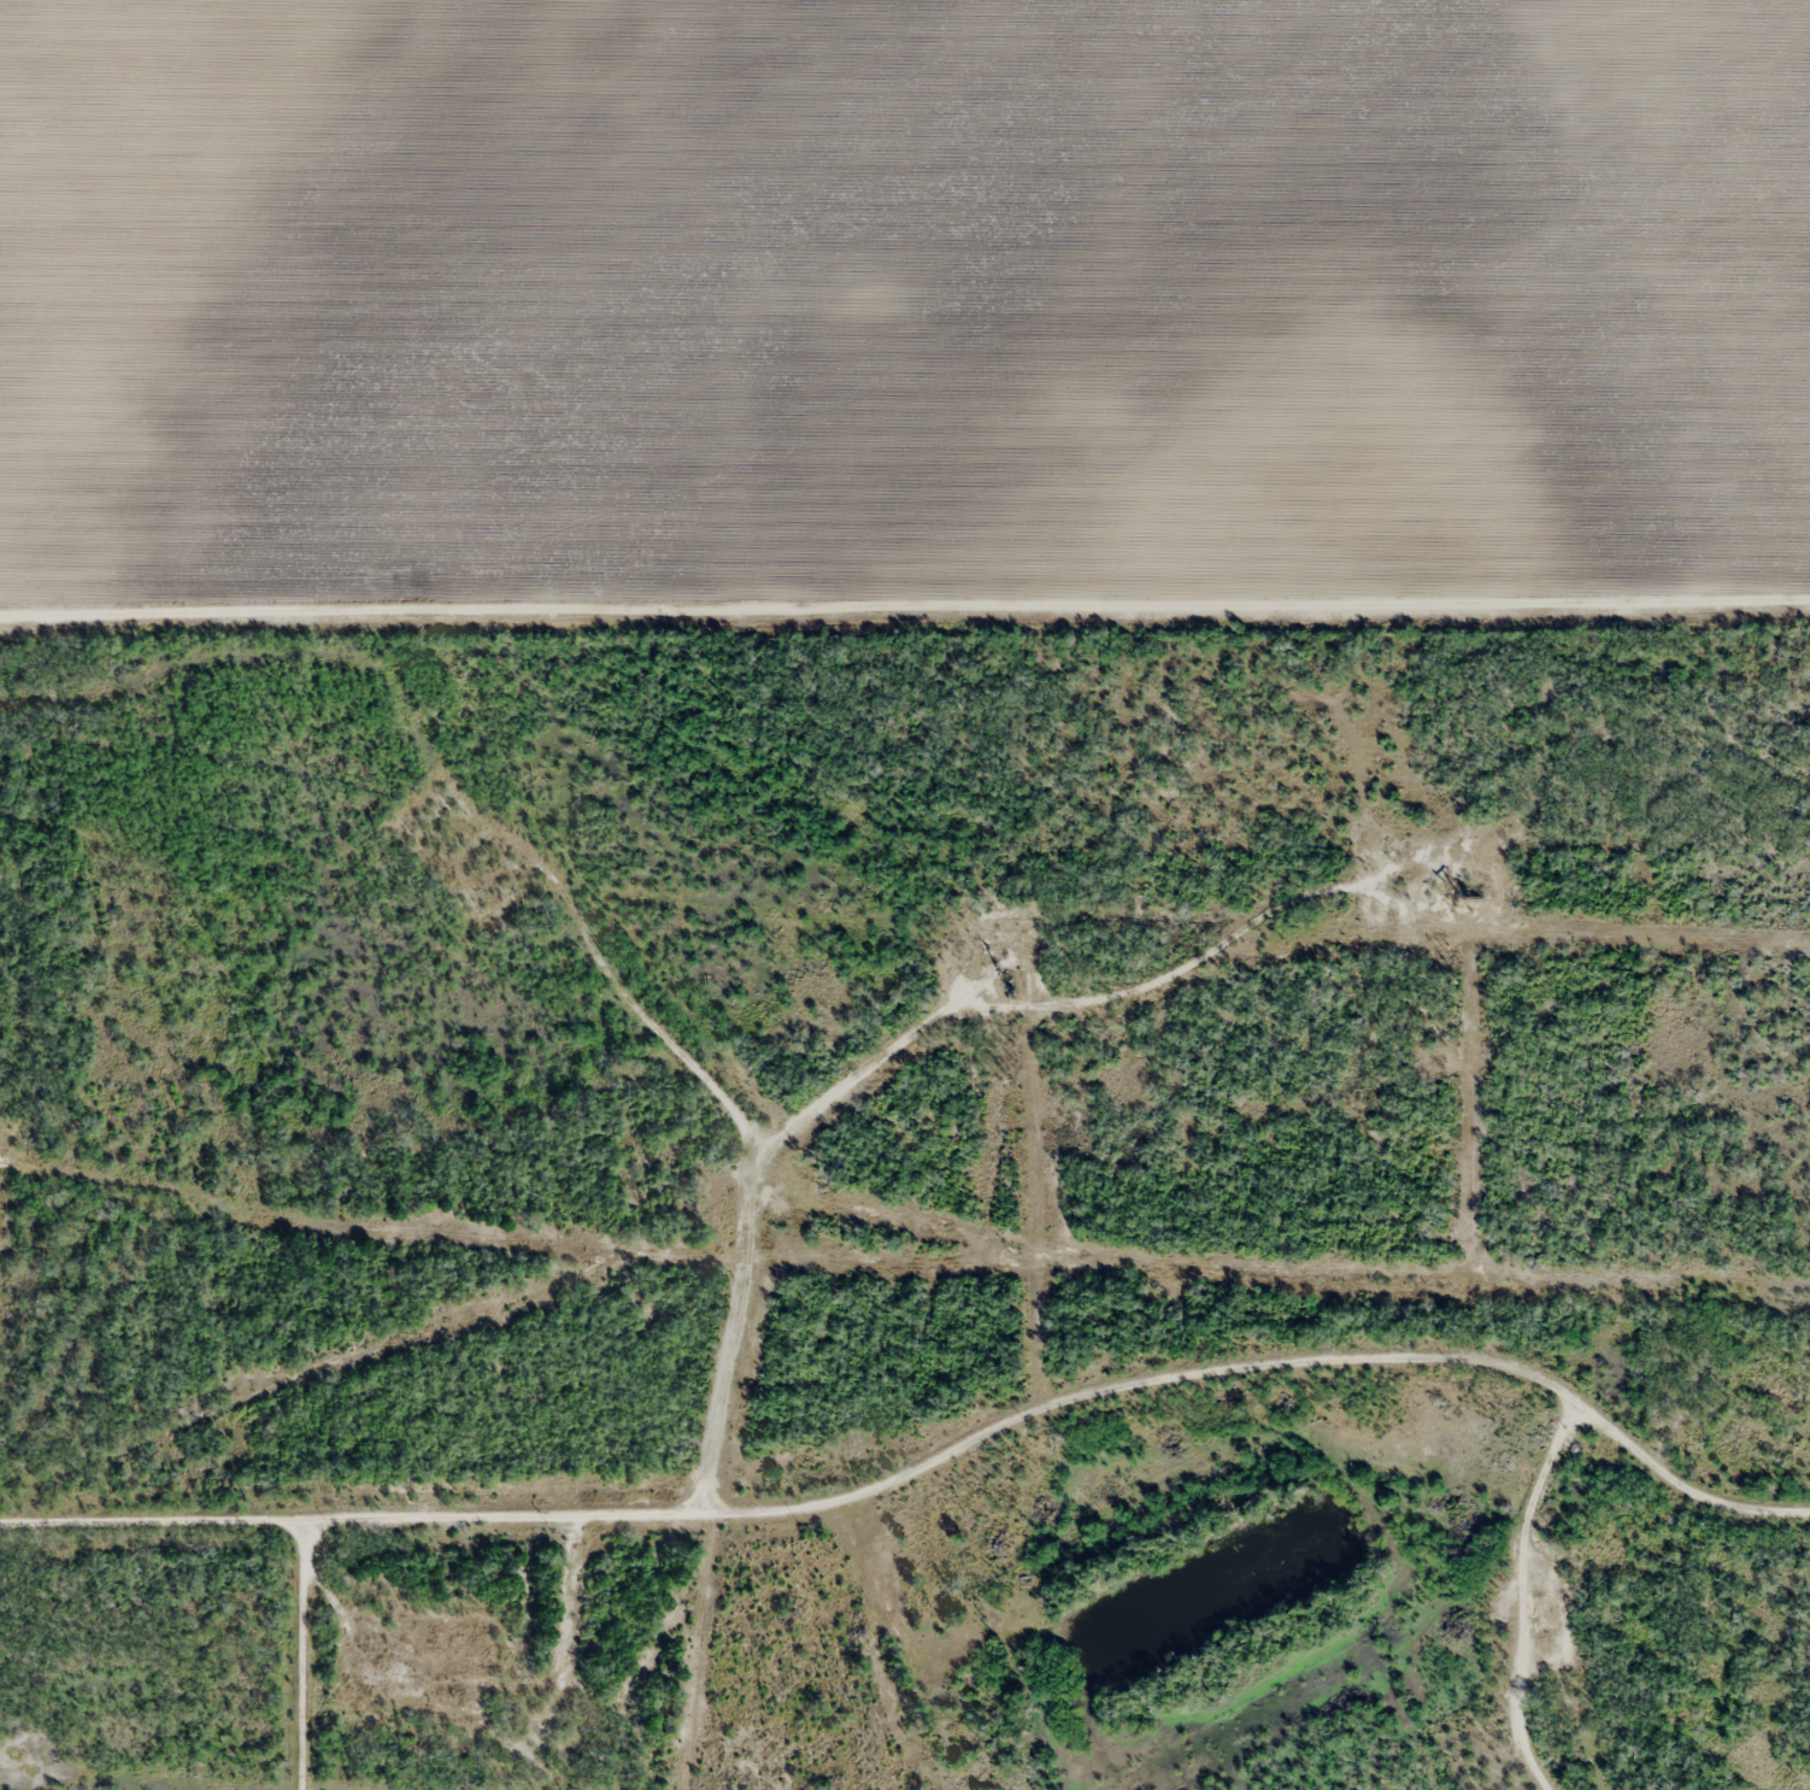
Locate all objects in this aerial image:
road: (905, 601)
road: (915, 1434)
road: (288, 1669)

